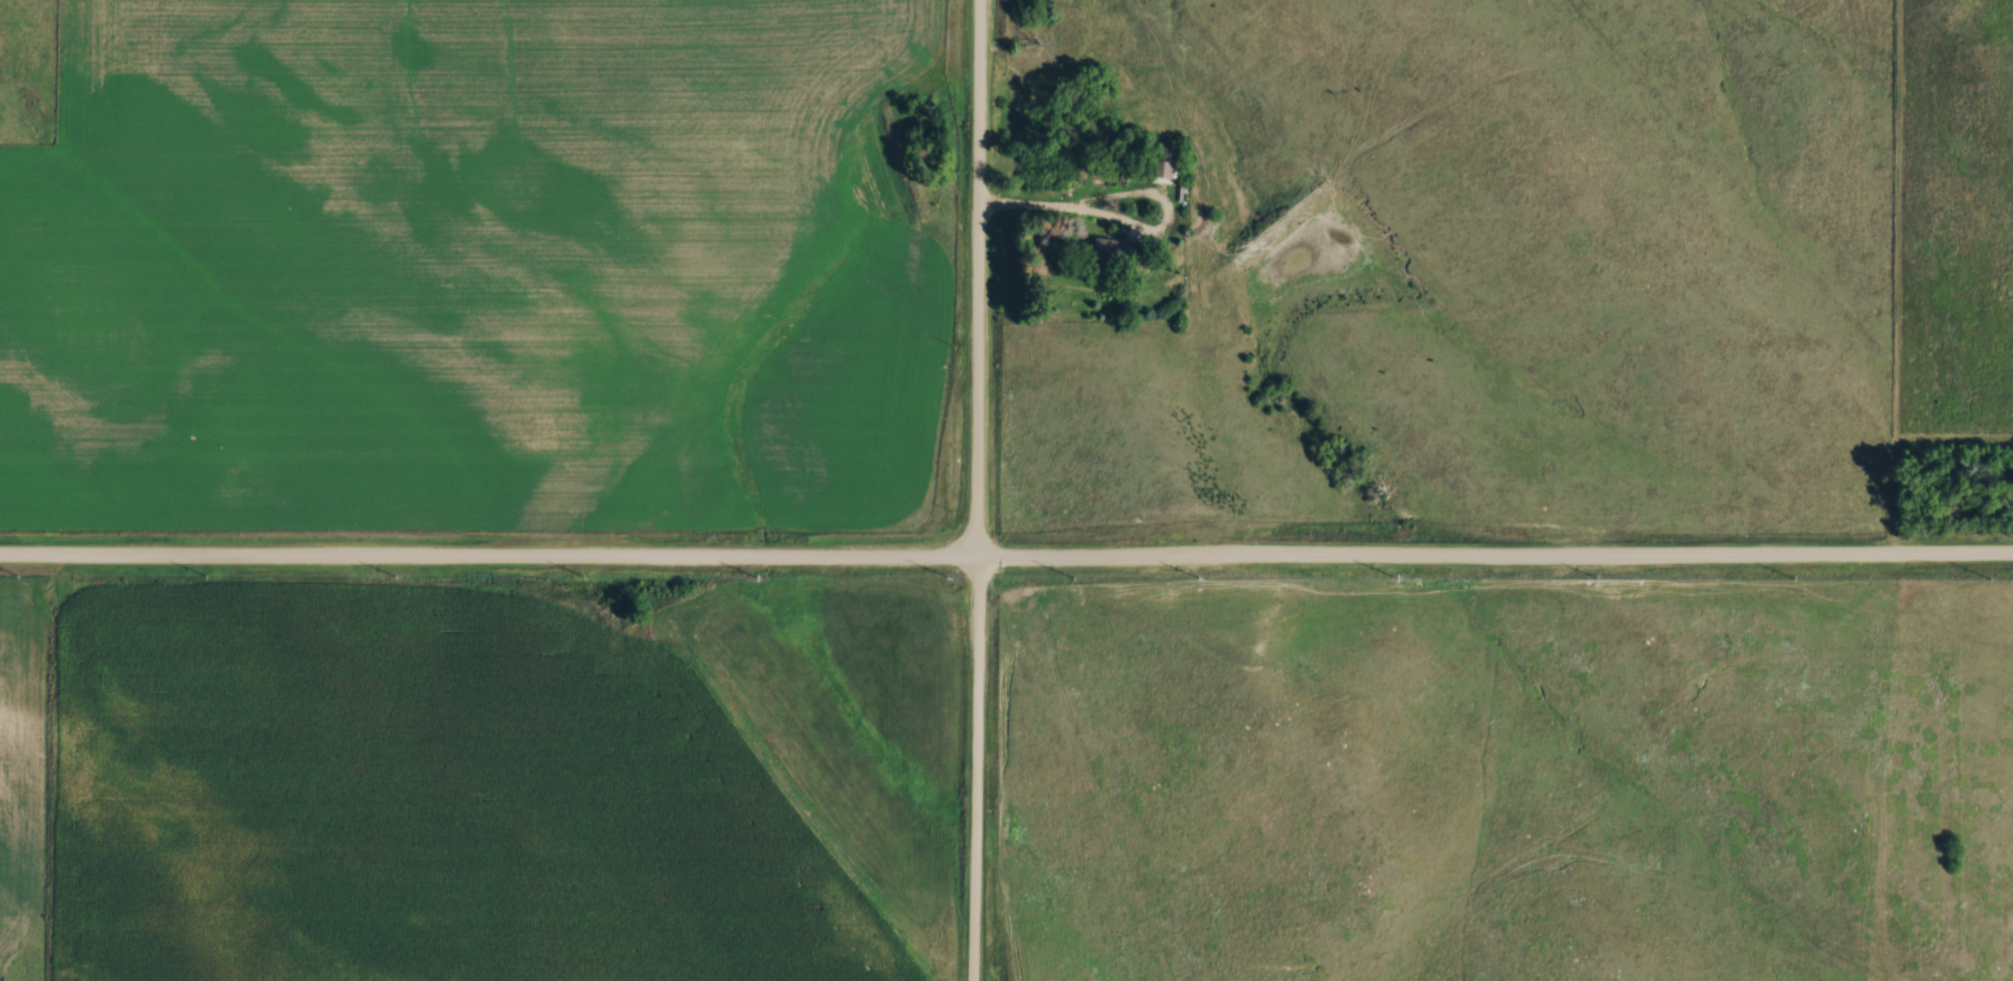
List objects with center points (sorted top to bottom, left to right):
building: (1161, 163)
road: (1069, 213)
building: (1107, 250)
road: (976, 490)
road: (1006, 561)

